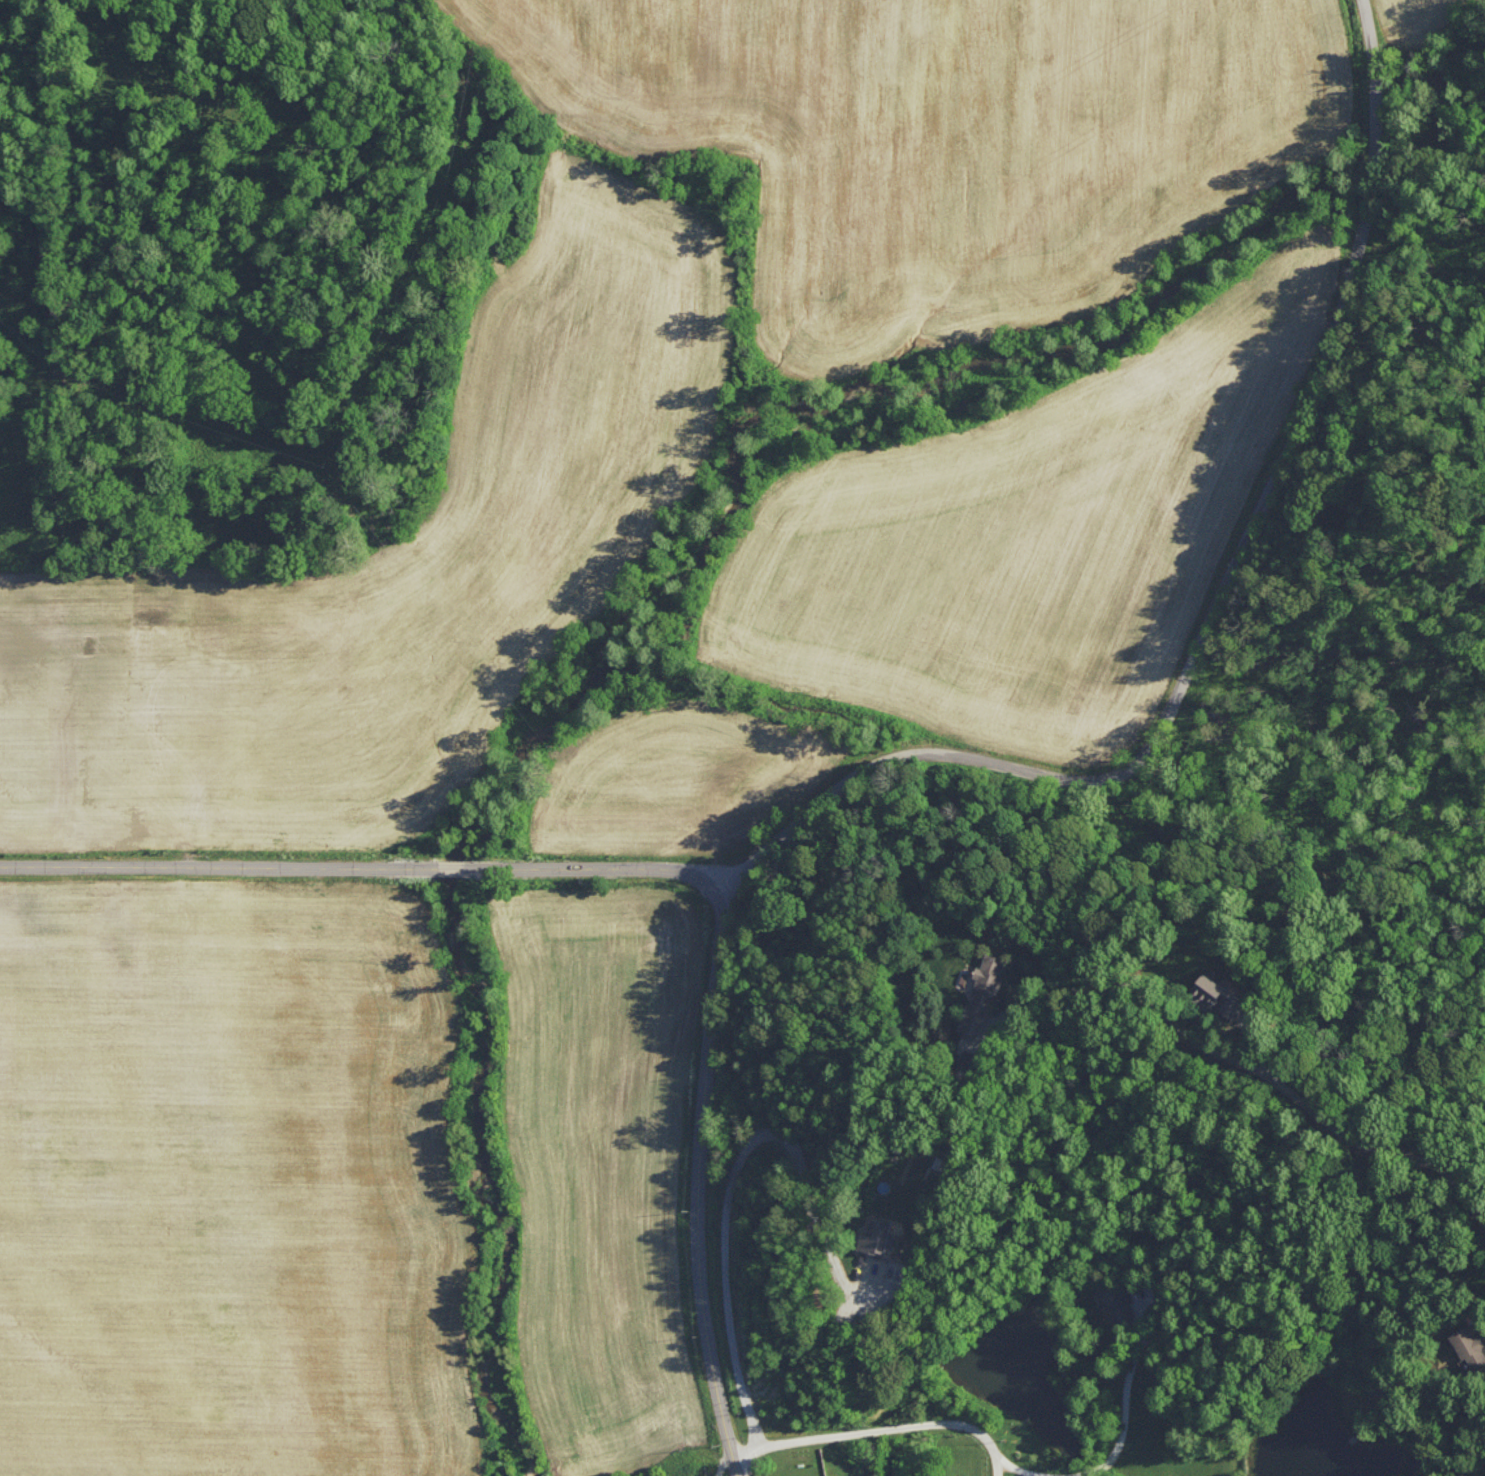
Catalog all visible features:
road: (1220, 620)
road: (365, 855)
building: (981, 994)
building: (1216, 994)
road: (1269, 1078)
road: (693, 1184)
road: (727, 1191)
building: (873, 1234)
building: (1116, 1301)
building: (1468, 1345)
road: (884, 1426)
road: (1113, 1447)
building: (708, 1475)
building: (821, 1475)

